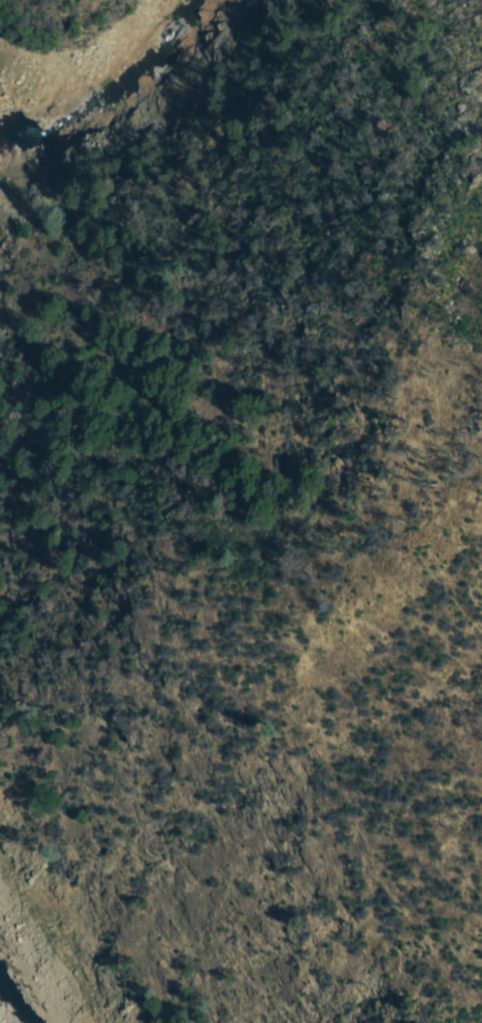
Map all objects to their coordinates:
river: (23, 987)

